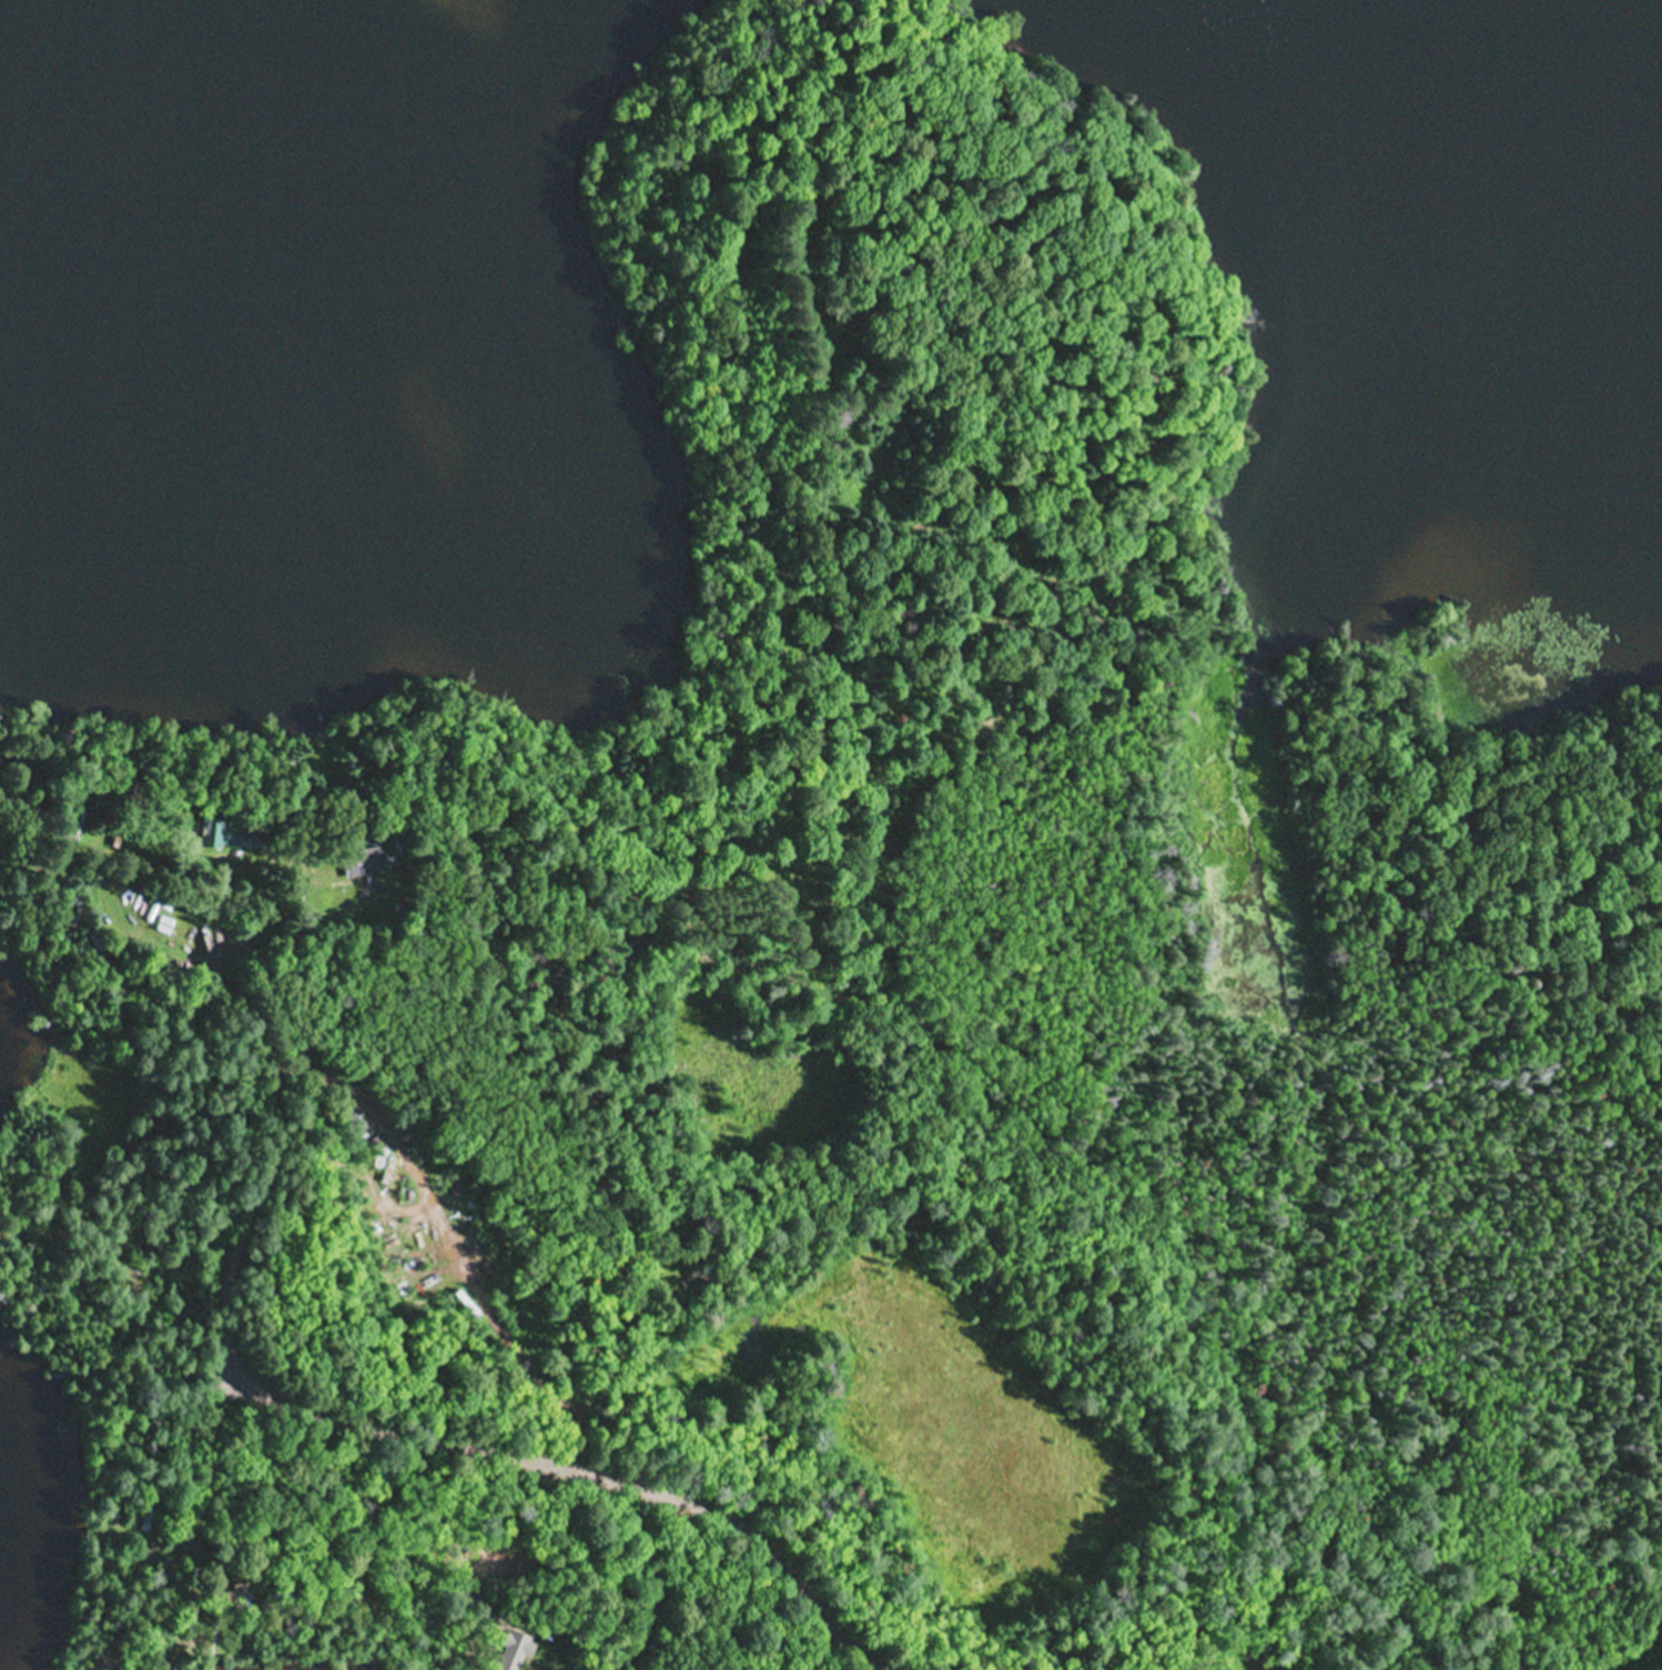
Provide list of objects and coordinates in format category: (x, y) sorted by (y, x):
road: (36, 803)
road: (90, 1071)
road: (325, 1074)
road: (288, 1393)
road: (323, 1525)
road: (175, 1526)
road: (403, 1535)
road: (689, 1593)

